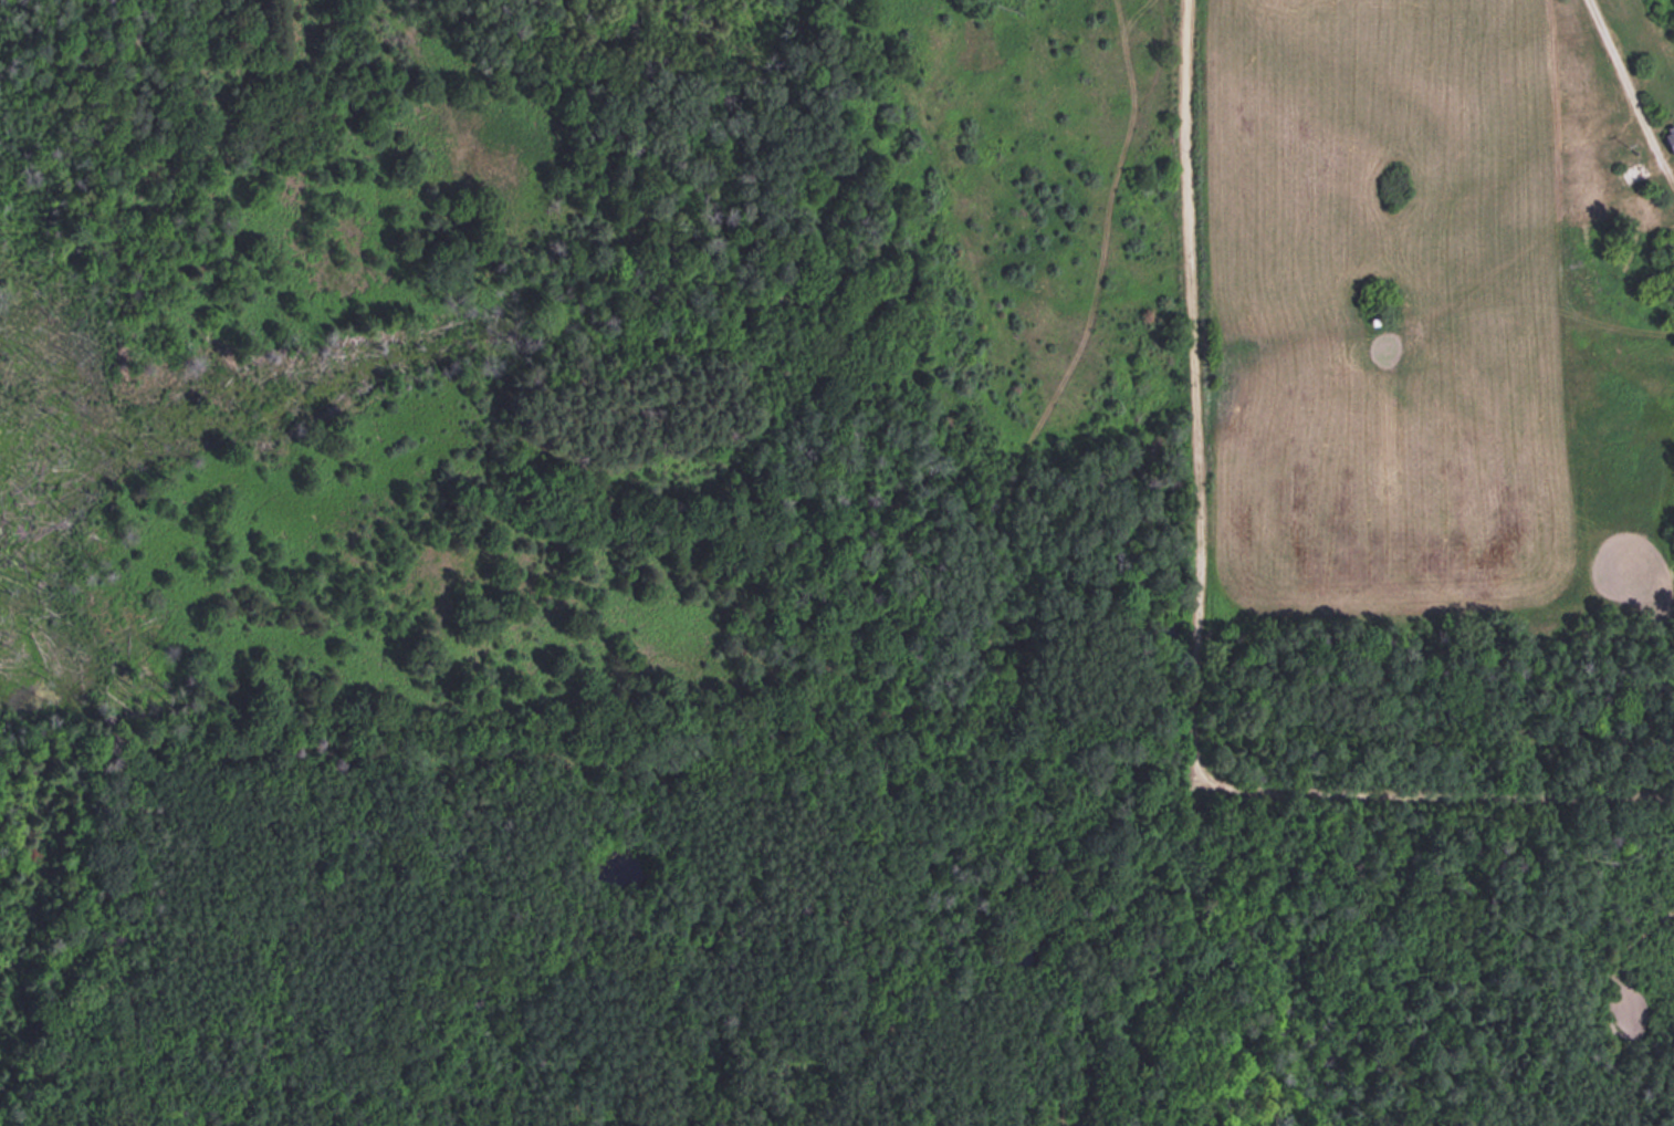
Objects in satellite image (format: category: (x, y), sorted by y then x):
building: (1670, 137)

